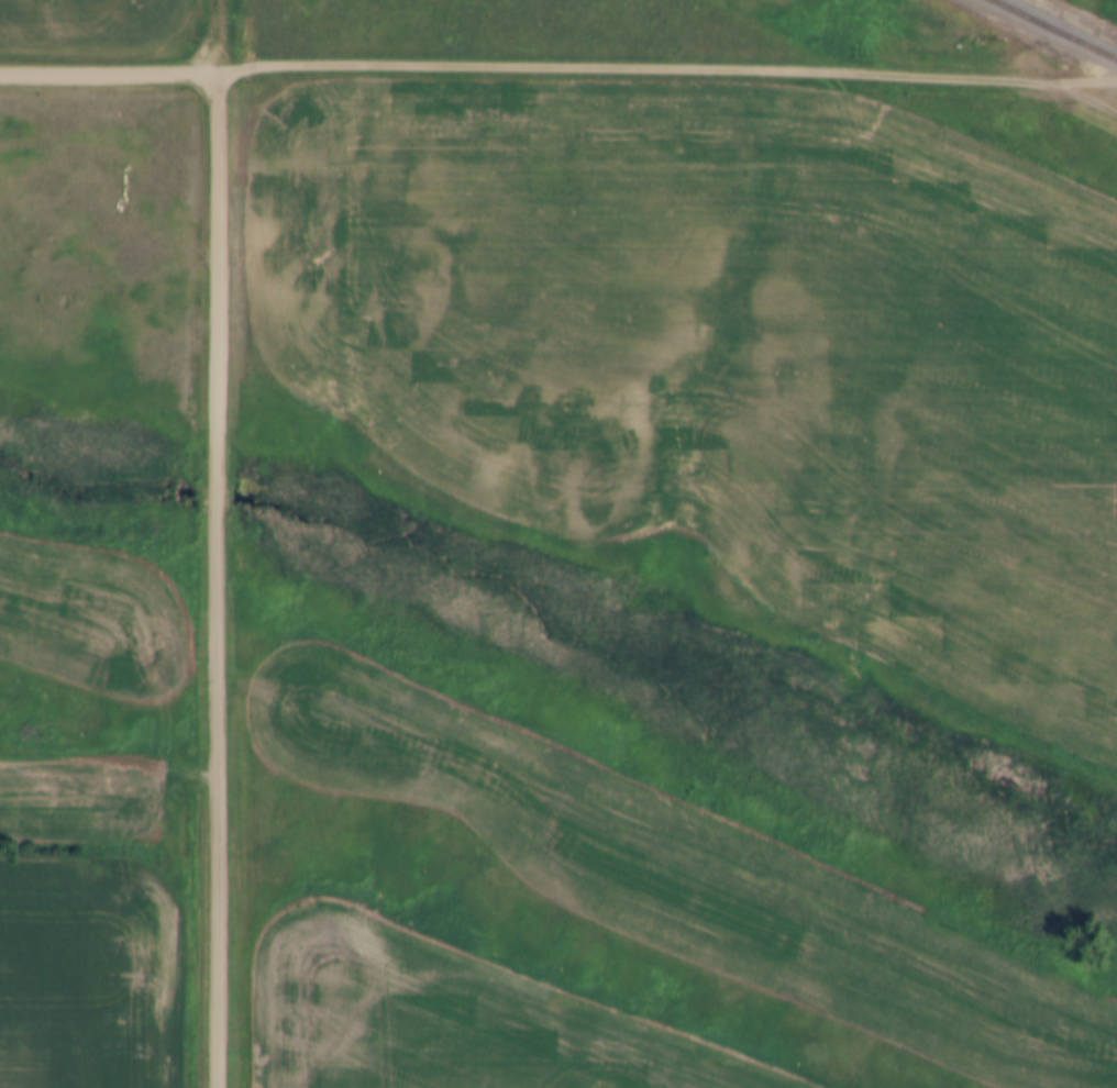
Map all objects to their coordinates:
railway: (1053, 30)
road: (219, 35)
road: (666, 67)
road: (108, 71)
road: (214, 579)

